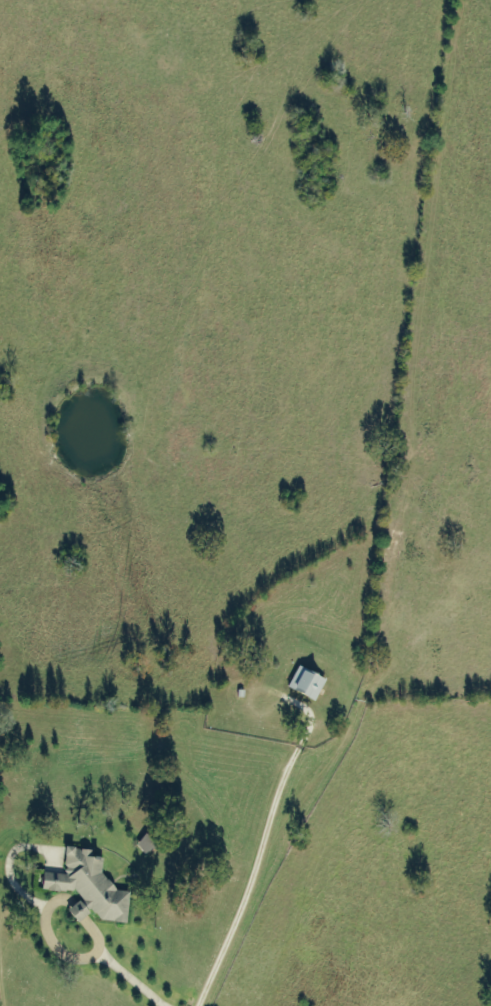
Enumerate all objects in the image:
building: (309, 684)
road: (75, 903)
road: (90, 928)
road: (80, 956)

